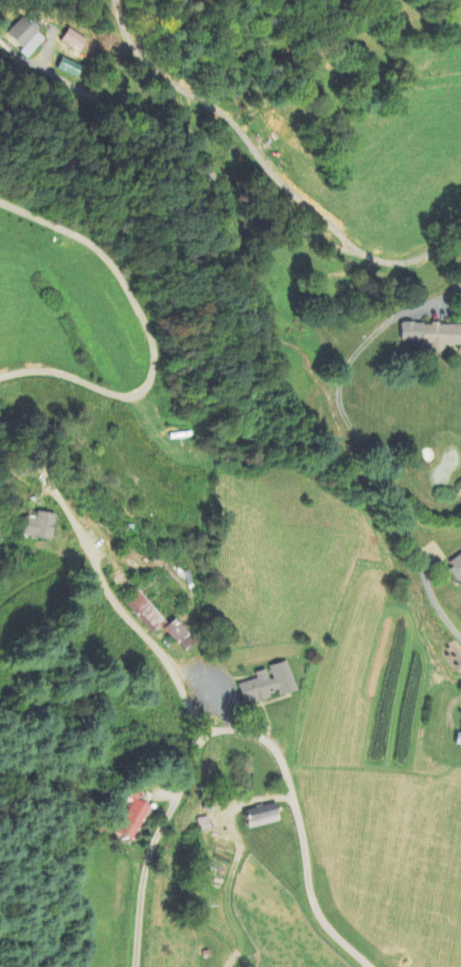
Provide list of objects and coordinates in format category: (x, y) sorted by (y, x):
building: (24, 37)
building: (73, 40)
building: (68, 68)
road: (241, 197)
road: (149, 335)
building: (432, 335)
building: (39, 526)
building: (455, 567)
road: (101, 578)
road: (434, 604)
building: (144, 612)
building: (177, 634)
building: (267, 684)
building: (458, 740)
building: (260, 816)
building: (133, 820)
road: (300, 832)
road: (152, 843)

